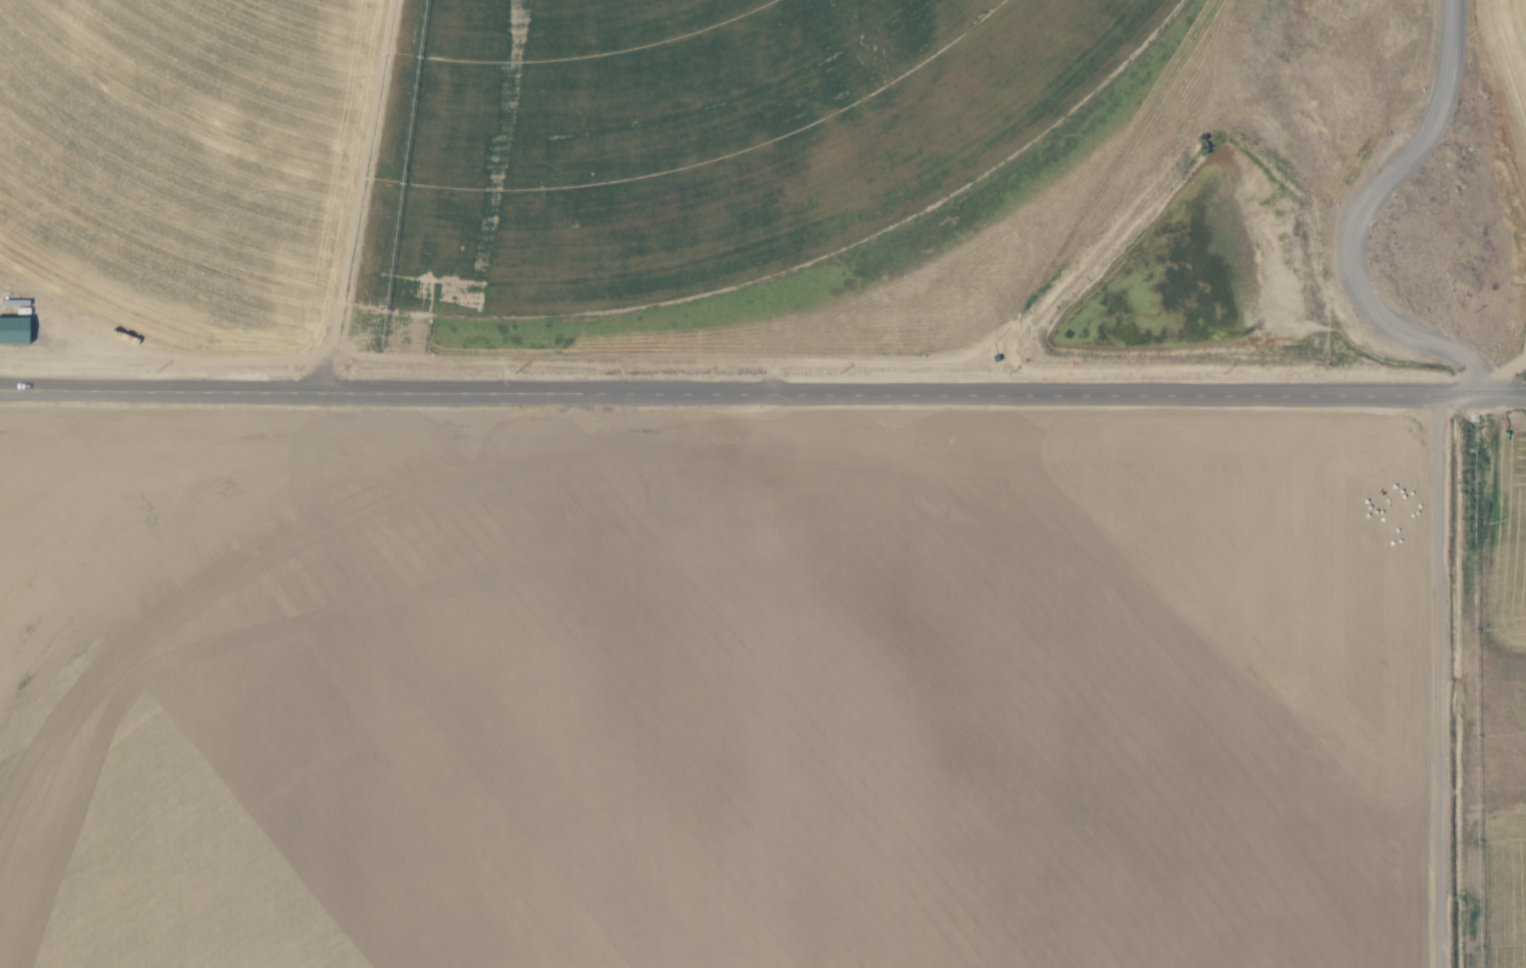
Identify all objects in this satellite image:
crop: (531, 142)
road: (1358, 218)
building: (14, 330)
road: (763, 391)
crop: (762, 692)

